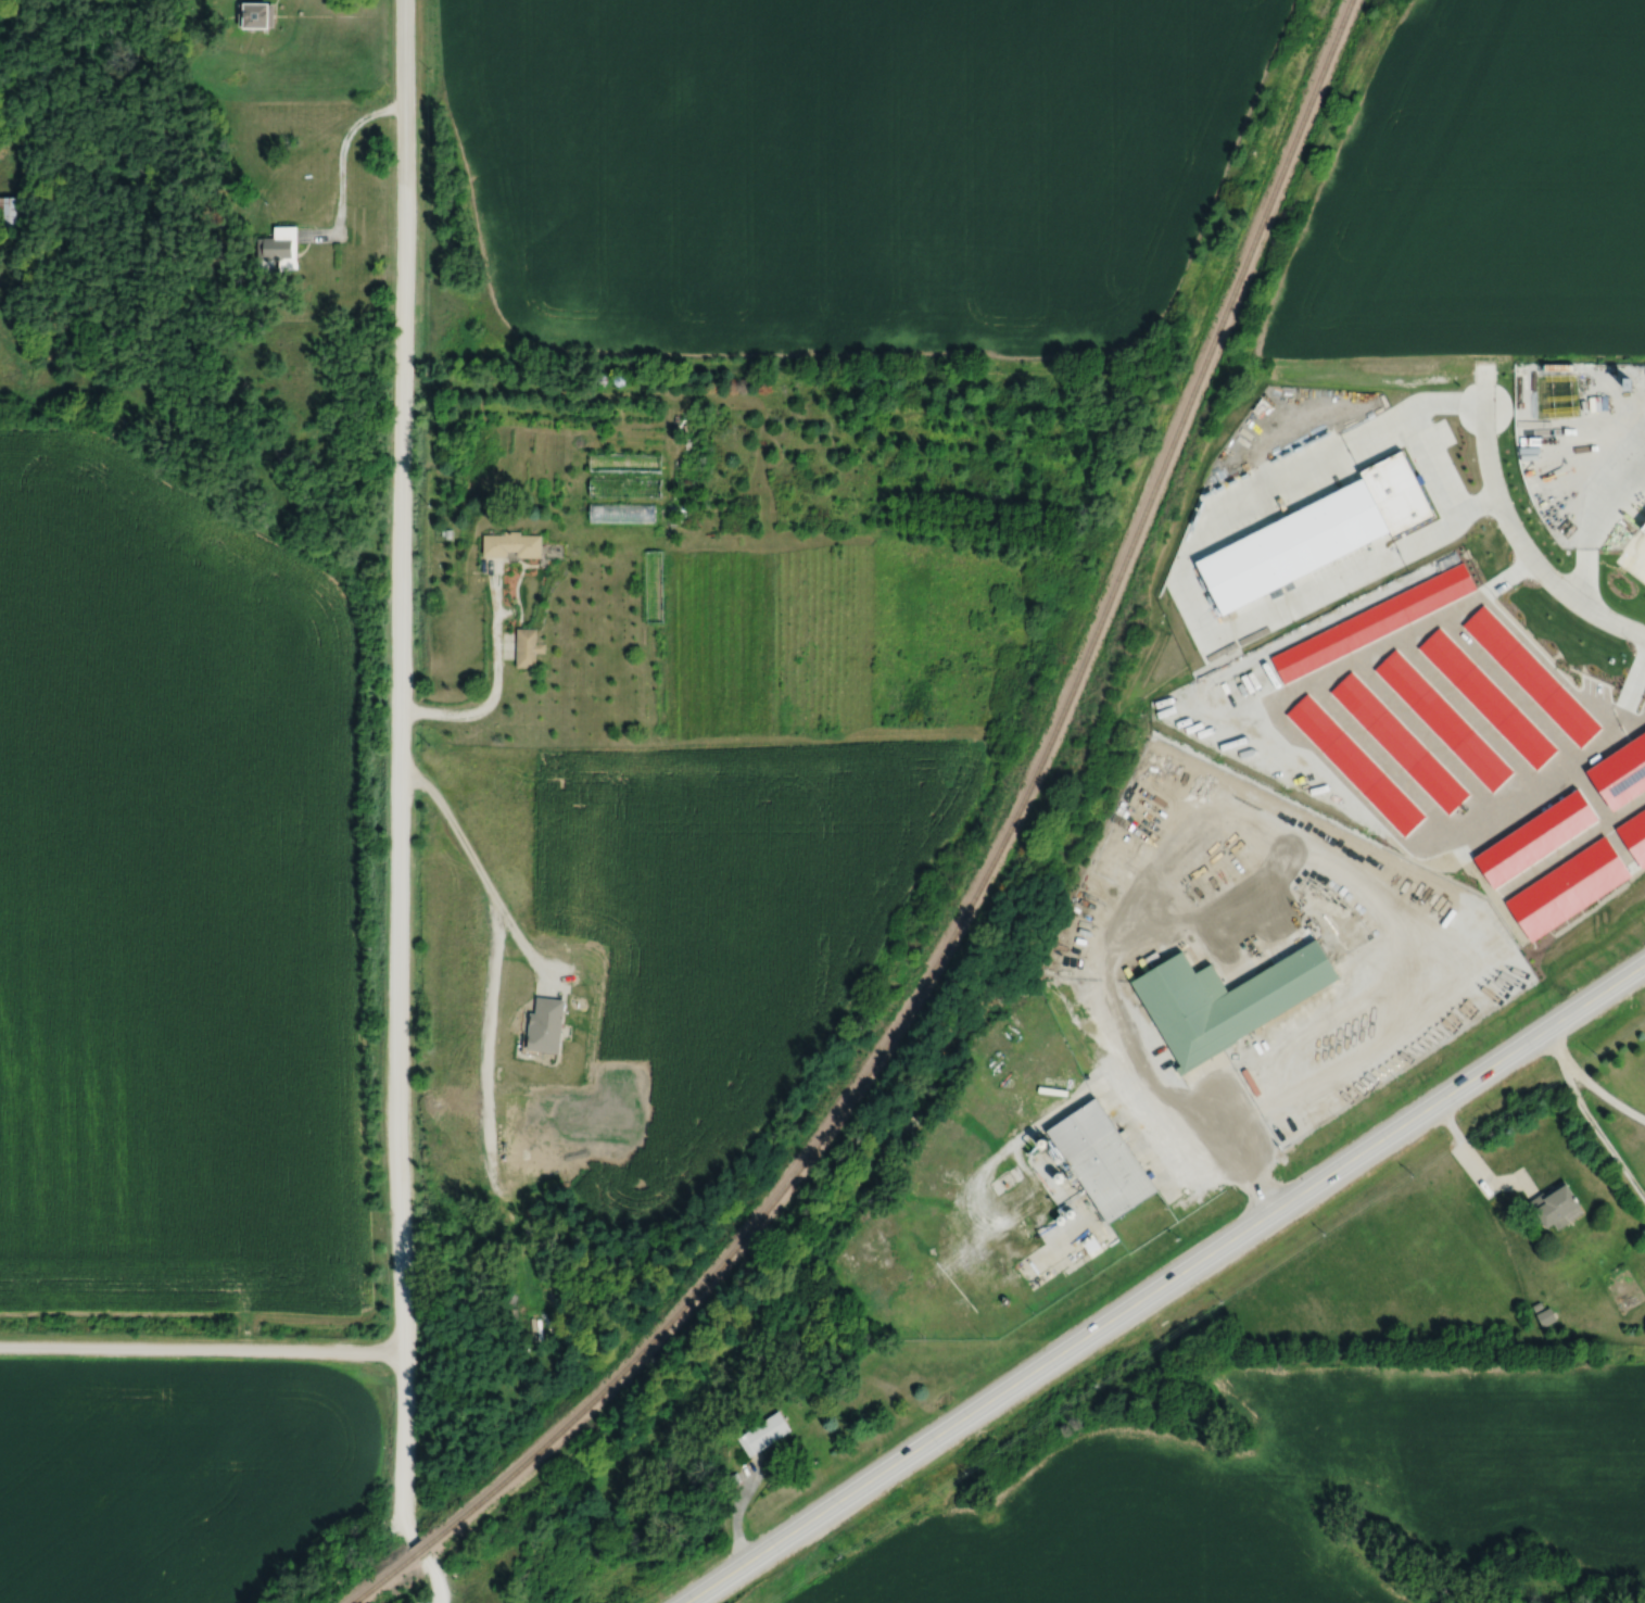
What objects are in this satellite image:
road: (342, 178)
building: (11, 212)
building: (282, 248)
road: (1419, 442)
building: (627, 463)
road: (1594, 507)
building: (624, 514)
building: (516, 545)
road: (1527, 545)
road: (1508, 621)
building: (528, 647)
road: (493, 687)
road: (1630, 695)
road: (1589, 702)
road: (394, 771)
railway: (989, 866)
road: (478, 867)
building: (1223, 998)
building: (541, 1023)
road: (1587, 1087)
road: (1176, 1131)
building: (1096, 1160)
road: (1475, 1172)
building: (1553, 1204)
road: (1168, 1285)
building: (1543, 1316)
road: (199, 1351)
building: (759, 1432)
road: (722, 1523)
road: (430, 1581)
railway: (370, 1589)

